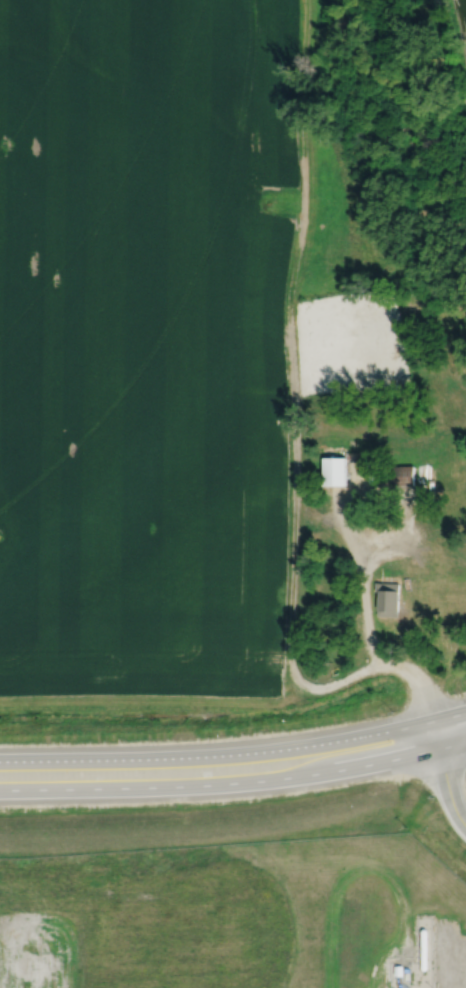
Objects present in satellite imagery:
crop: (145, 344)
road: (290, 386)
building: (430, 462)
building: (334, 470)
building: (395, 475)
road: (353, 545)
building: (387, 599)
building: (356, 635)
road: (235, 754)
road: (444, 774)
road: (234, 782)
road: (410, 908)
building: (463, 920)
road: (460, 923)
building: (47, 939)
building: (186, 946)
building: (422, 947)
building: (397, 969)
building: (405, 969)

